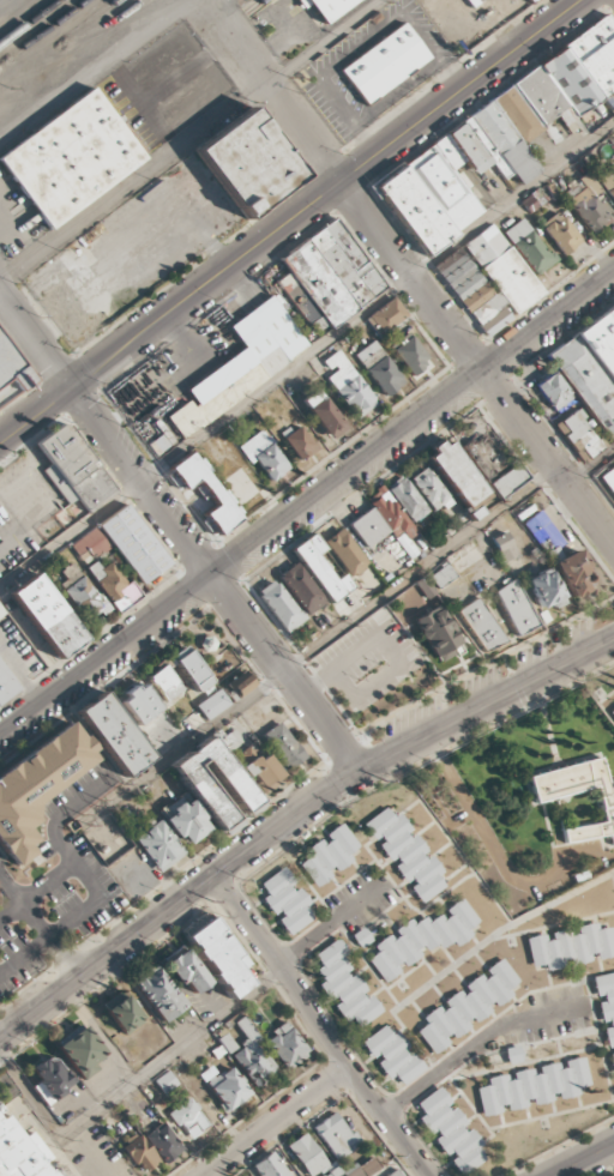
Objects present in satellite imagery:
railway: (169, 1)
building: (528, 1)
railway: (255, 6)
building: (327, 7)
railway: (13, 10)
railway: (29, 22)
railway: (115, 25)
railway: (46, 31)
building: (384, 64)
building: (495, 139)
road: (308, 140)
road: (191, 143)
building: (70, 157)
building: (247, 162)
building: (607, 181)
building: (534, 199)
building: (589, 205)
road: (291, 221)
building: (560, 233)
building: (529, 246)
building: (331, 273)
building: (488, 281)
building: (385, 316)
building: (67, 318)
road: (306, 354)
building: (410, 354)
building: (242, 364)
building: (11, 368)
building: (379, 368)
building: (591, 368)
building: (348, 385)
building: (554, 393)
building: (2, 403)
road: (511, 410)
building: (323, 414)
road: (107, 435)
building: (578, 435)
building: (300, 442)
building: (264, 456)
road: (590, 463)
building: (73, 469)
building: (456, 474)
building: (608, 480)
building: (508, 481)
building: (431, 490)
building: (217, 497)
building: (408, 500)
road: (306, 506)
building: (368, 527)
building: (124, 544)
building: (504, 547)
building: (344, 553)
building: (561, 559)
building: (319, 568)
building: (441, 575)
building: (112, 584)
building: (301, 589)
building: (544, 589)
building: (80, 592)
building: (278, 607)
building: (516, 607)
building: (47, 616)
building: (481, 625)
building: (439, 634)
road: (317, 643)
building: (191, 669)
road: (284, 673)
building: (165, 683)
building: (6, 685)
building: (242, 685)
building: (140, 704)
building: (212, 705)
building: (612, 712)
building: (113, 735)
building: (229, 740)
building: (283, 746)
building: (261, 772)
building: (198, 785)
building: (37, 786)
building: (549, 795)
road: (293, 816)
building: (186, 820)
building: (159, 845)
building: (405, 854)
building: (327, 855)
building: (285, 900)
road: (43, 915)
building: (360, 937)
building: (421, 939)
building: (571, 946)
building: (219, 957)
building: (186, 971)
building: (344, 987)
building: (158, 994)
building: (468, 1006)
building: (606, 1008)
building: (124, 1014)
road: (319, 1027)
building: (285, 1045)
building: (80, 1051)
building: (252, 1055)
building: (392, 1055)
building: (49, 1079)
building: (165, 1081)
building: (532, 1086)
building: (224, 1087)
building: (189, 1118)
road: (276, 1122)
building: (450, 1132)
building: (337, 1136)
building: (162, 1142)
building: (22, 1152)
building: (140, 1153)
building: (312, 1158)
road: (584, 1160)
building: (270, 1166)
building: (363, 1168)
building: (396, 1174)

